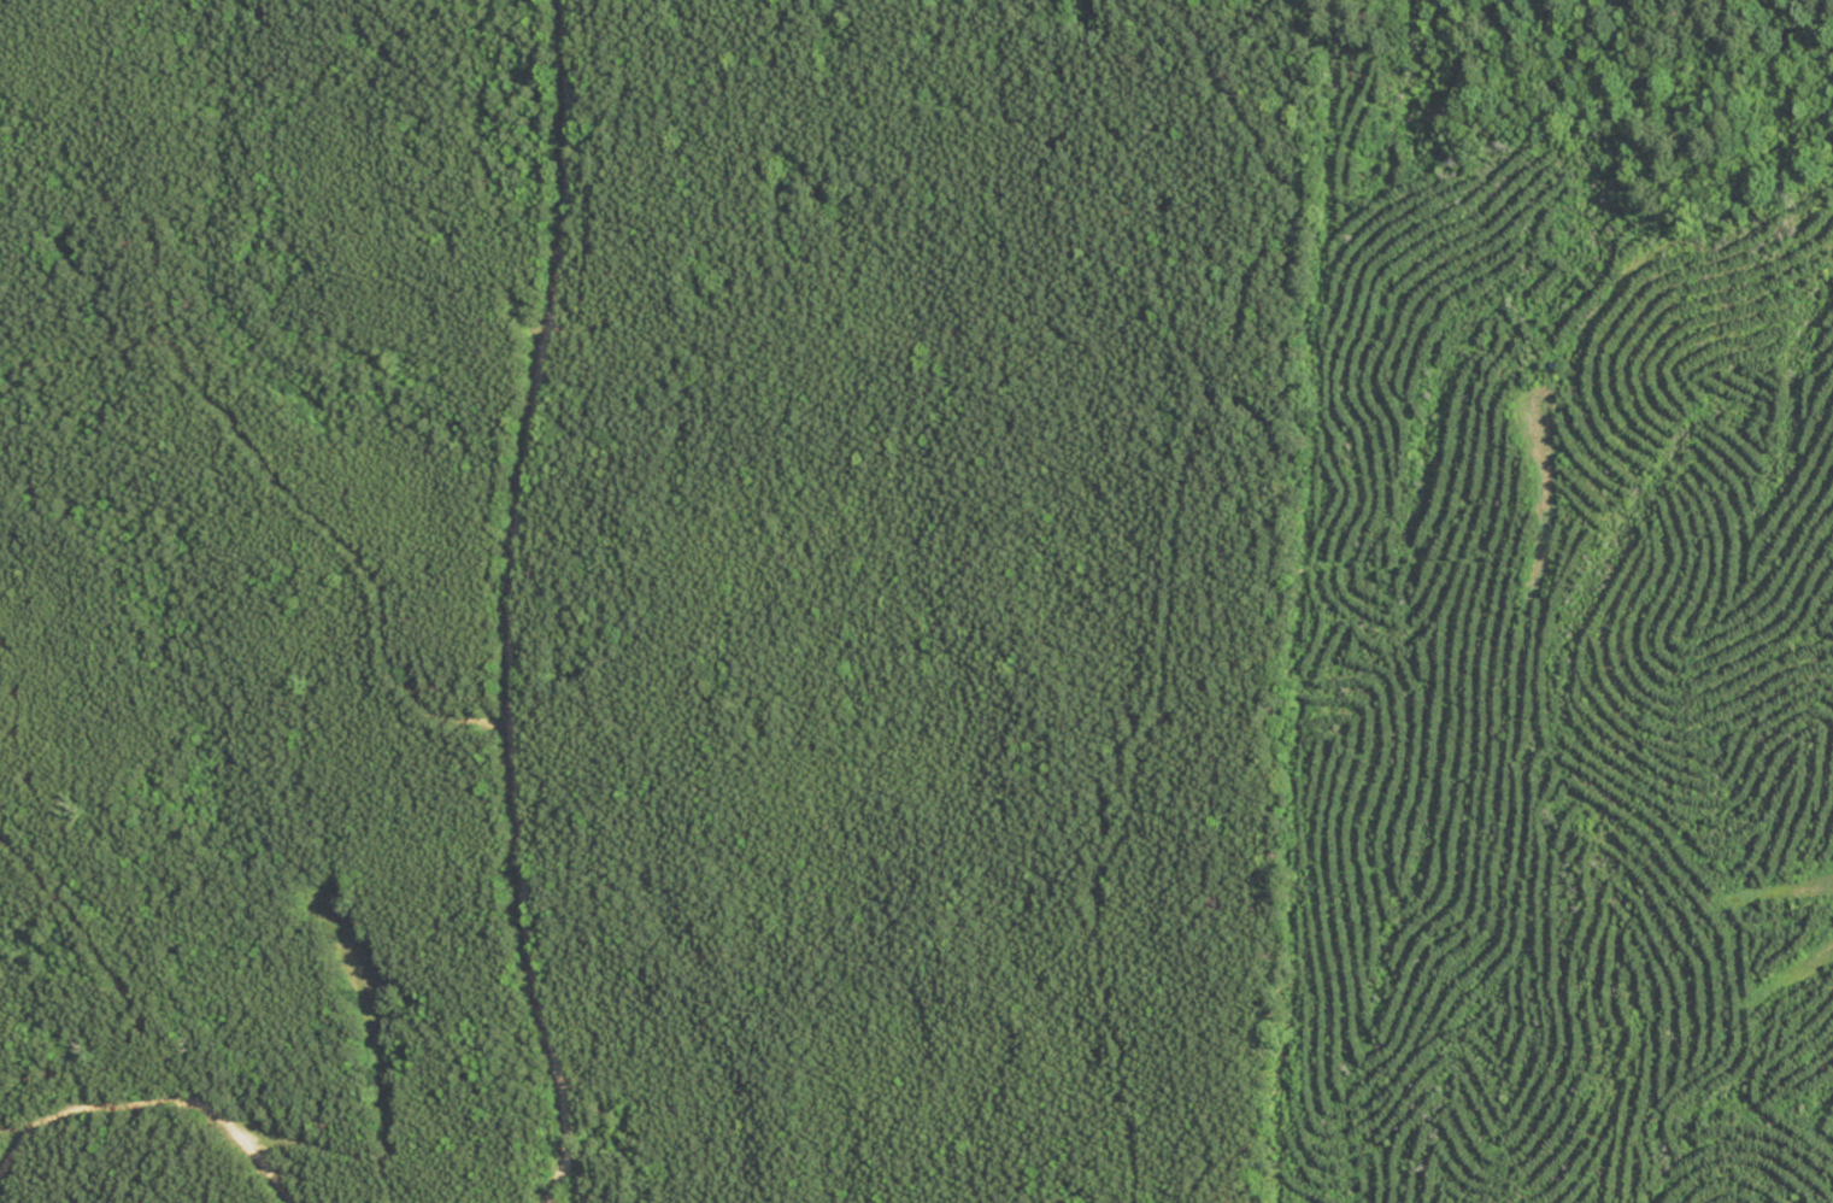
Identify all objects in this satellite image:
road: (519, 603)
road: (182, 1111)

